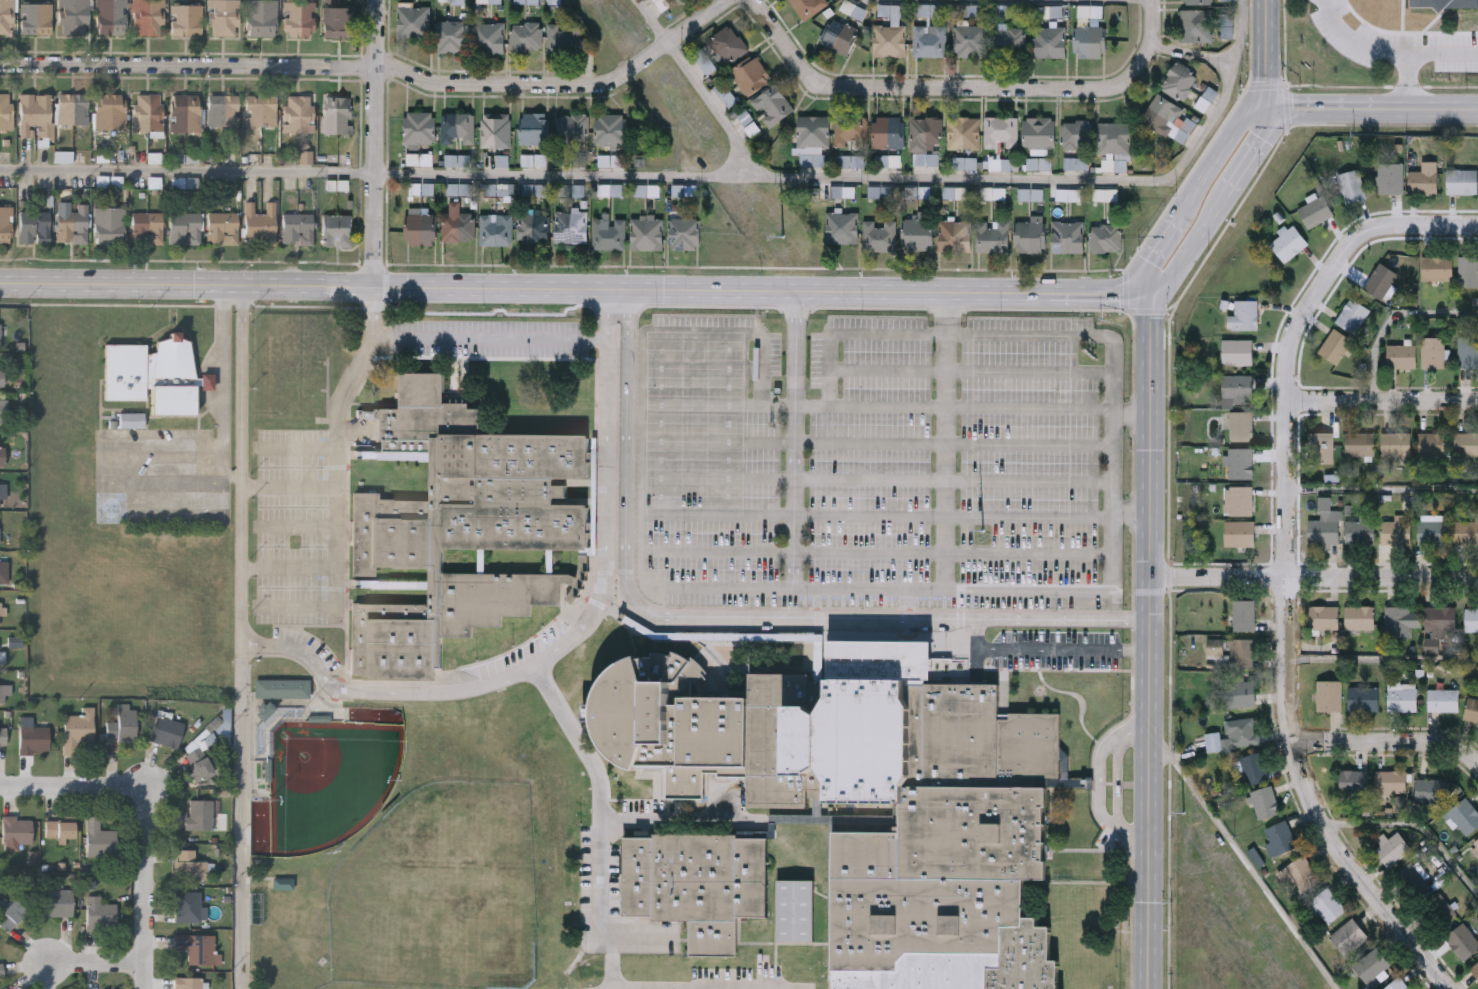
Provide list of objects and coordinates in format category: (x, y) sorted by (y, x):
building: (1228, 0)
building: (496, 1)
building: (526, 1)
building: (679, 1)
building: (555, 2)
building: (1197, 2)
building: (663, 4)
building: (1444, 6)
building: (807, 7)
building: (851, 8)
building: (931, 10)
building: (970, 10)
building: (1004, 10)
building: (1047, 11)
building: (1091, 13)
building: (73, 17)
building: (7, 18)
building: (111, 18)
building: (148, 19)
building: (224, 19)
building: (262, 20)
building: (36, 21)
building: (300, 21)
building: (186, 22)
building: (414, 23)
road: (654, 23)
building: (338, 24)
building: (1227, 26)
building: (1197, 27)
building: (453, 37)
building: (840, 37)
building: (526, 38)
building: (490, 39)
building: (564, 39)
road: (1357, 39)
building: (930, 41)
building: (970, 41)
building: (890, 42)
building: (1010, 42)
building: (1050, 43)
building: (1090, 43)
building: (728, 45)
road: (1149, 46)
road: (1267, 55)
road: (1417, 56)
building: (707, 65)
road: (381, 69)
building: (751, 75)
building: (1180, 82)
road: (916, 87)
road: (716, 106)
building: (773, 106)
road: (1372, 106)
building: (73, 111)
traffic signals: (1268, 111)
building: (224, 112)
building: (6, 113)
building: (261, 113)
building: (111, 114)
building: (149, 114)
building: (186, 114)
building: (301, 116)
building: (338, 116)
building: (35, 117)
building: (1169, 120)
building: (574, 127)
building: (420, 129)
building: (458, 129)
building: (535, 129)
building: (496, 131)
building: (611, 131)
building: (813, 132)
building: (851, 132)
building: (1002, 132)
building: (890, 133)
building: (925, 133)
building: (964, 133)
building: (1040, 133)
building: (1077, 136)
building: (1116, 138)
road: (377, 143)
building: (64, 157)
building: (306, 158)
building: (186, 159)
building: (458, 160)
building: (534, 160)
building: (573, 160)
building: (611, 161)
building: (851, 161)
building: (889, 161)
building: (965, 163)
building: (1040, 163)
building: (1077, 163)
building: (1002, 164)
road: (188, 170)
building: (1387, 175)
road: (878, 177)
building: (1461, 179)
building: (1421, 180)
building: (1349, 184)
building: (460, 189)
building: (500, 189)
building: (534, 190)
building: (578, 190)
building: (610, 190)
building: (647, 190)
building: (685, 190)
road: (1195, 191)
building: (846, 192)
building: (881, 192)
building: (956, 192)
building: (925, 193)
building: (994, 193)
building: (1031, 194)
building: (1069, 194)
road: (1218, 209)
building: (1314, 209)
building: (460, 223)
building: (6, 227)
building: (260, 227)
building: (422, 227)
building: (73, 228)
building: (109, 228)
building: (572, 228)
building: (35, 229)
building: (842, 229)
building: (147, 230)
building: (185, 230)
building: (222, 230)
building: (298, 230)
building: (496, 230)
building: (534, 230)
building: (337, 232)
building: (647, 234)
building: (685, 234)
building: (609, 235)
building: (918, 235)
building: (955, 236)
building: (1031, 236)
building: (880, 237)
building: (993, 238)
building: (1068, 238)
power tower: (768, 240)
building: (1106, 240)
building: (1287, 241)
building: (1438, 266)
building: (1467, 268)
building: (1379, 278)
road: (575, 288)
traffic signals: (1151, 293)
building: (1242, 312)
building: (1351, 312)
building: (0, 314)
road: (1392, 318)
road: (853, 332)
road: (489, 338)
road: (1296, 338)
building: (1333, 343)
building: (1236, 349)
building: (1432, 349)
building: (1467, 349)
building: (1400, 354)
road: (888, 370)
road: (1030, 370)
building: (151, 374)
building: (1, 378)
building: (1237, 386)
road: (1383, 401)
road: (877, 407)
building: (3, 412)
road: (1131, 413)
building: (132, 421)
building: (1239, 423)
road: (337, 424)
road: (795, 439)
road: (946, 440)
building: (1358, 441)
building: (1395, 441)
building: (1431, 441)
building: (1465, 441)
road: (870, 442)
road: (1030, 443)
road: (122, 445)
building: (1319, 445)
road: (298, 446)
building: (1, 455)
building: (1239, 460)
parking lot: (879, 462)
road: (871, 478)
road: (1030, 479)
road: (290, 488)
road: (1383, 488)
building: (2, 490)
building: (1238, 498)
road: (793, 514)
road: (1030, 517)
building: (1323, 523)
parking lot: (293, 527)
building: (459, 529)
building: (1359, 529)
building: (1395, 530)
building: (1431, 530)
building: (1465, 530)
building: (1238, 531)
building: (0, 536)
power tower: (979, 537)
road: (1030, 553)
building: (584, 559)
road: (289, 568)
building: (3, 572)
road: (1314, 578)
road: (868, 588)
road: (336, 591)
building: (1, 608)
building: (1242, 612)
building: (1322, 614)
building: (1358, 615)
building: (1439, 615)
building: (1471, 616)
road: (732, 617)
building: (1396, 618)
road: (243, 636)
road: (570, 637)
road: (1150, 640)
building: (15, 642)
building: (1214, 644)
road: (1021, 648)
road: (1121, 649)
building: (1240, 650)
road: (1383, 658)
building: (3, 688)
building: (283, 689)
building: (1238, 690)
building: (1327, 692)
building: (1401, 695)
building: (1362, 696)
building: (1442, 697)
building: (1471, 708)
building: (265, 711)
building: (121, 723)
building: (76, 729)
building: (1240, 729)
building: (165, 730)
building: (2, 735)
building: (33, 738)
building: (261, 739)
building: (1211, 739)
road: (1390, 743)
building: (198, 762)
building: (1253, 766)
building: (1390, 779)
building: (1352, 780)
road: (1099, 782)
road: (1118, 784)
road: (76, 787)
building: (1431, 789)
building: (1262, 800)
road: (1314, 803)
building: (1401, 804)
building: (198, 813)
building: (1464, 814)
road: (599, 818)
building: (974, 820)
road: (681, 822)
road: (1415, 822)
power tower: (1182, 823)
building: (58, 828)
building: (772, 829)
building: (16, 830)
building: (1278, 836)
building: (98, 838)
building: (1392, 847)
building: (1474, 847)
road: (1246, 862)
building: (188, 864)
building: (1296, 871)
building: (1412, 876)
building: (283, 884)
building: (699, 885)
road: (149, 893)
building: (57, 901)
building: (1326, 903)
building: (186, 906)
building: (1436, 907)
building: (796, 910)
building: (11, 912)
building: (99, 913)
building: (1347, 934)
building: (1461, 939)
building: (195, 946)
building: (1370, 963)
road: (99, 965)
building: (1474, 968)
building: (1, 969)
building: (187, 982)
building: (1395, 983)
road: (244, 985)
building: (7, 988)
road: (728, 988)

